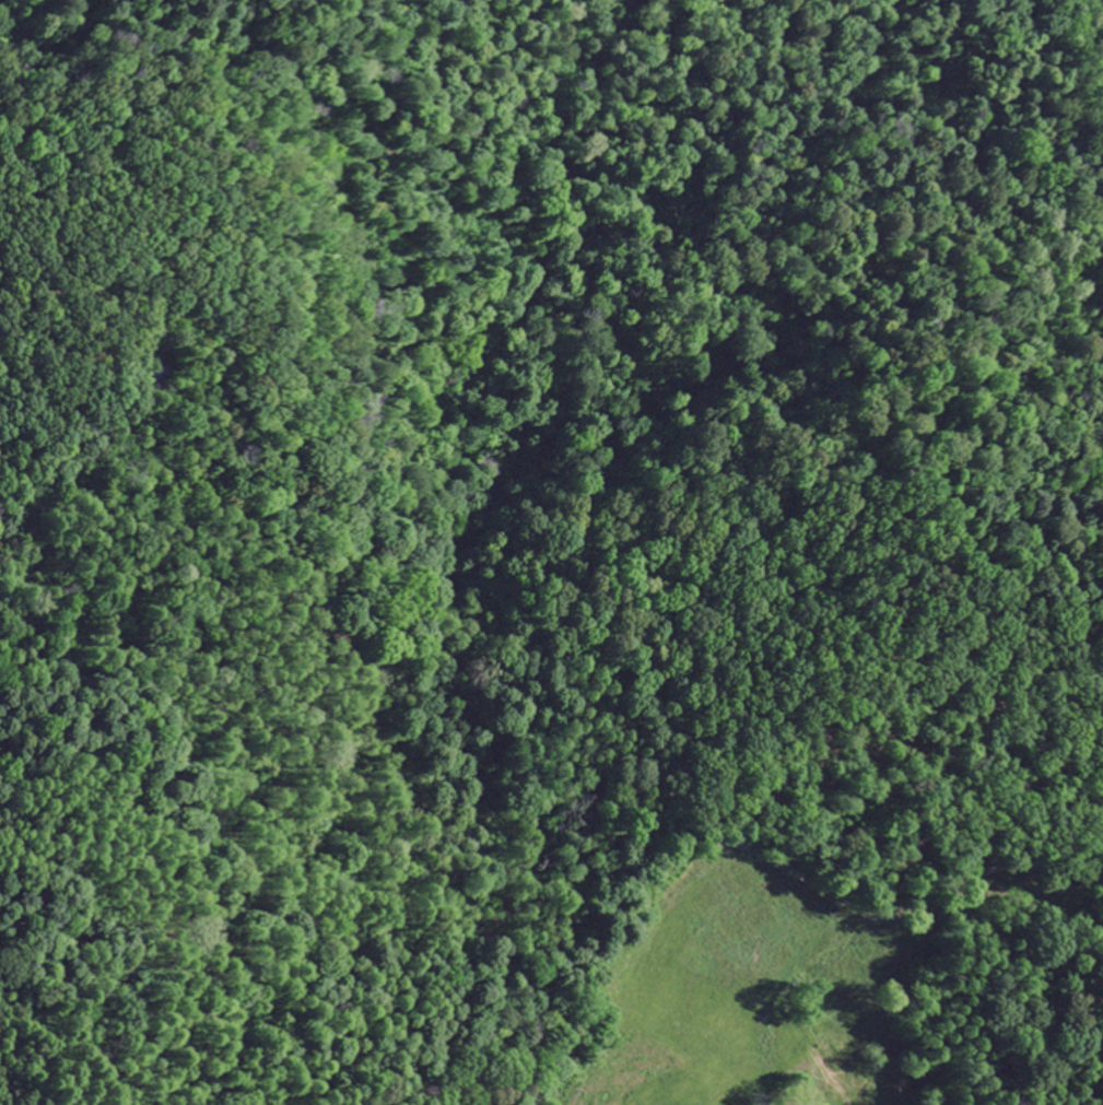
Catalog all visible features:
road: (882, 925)

